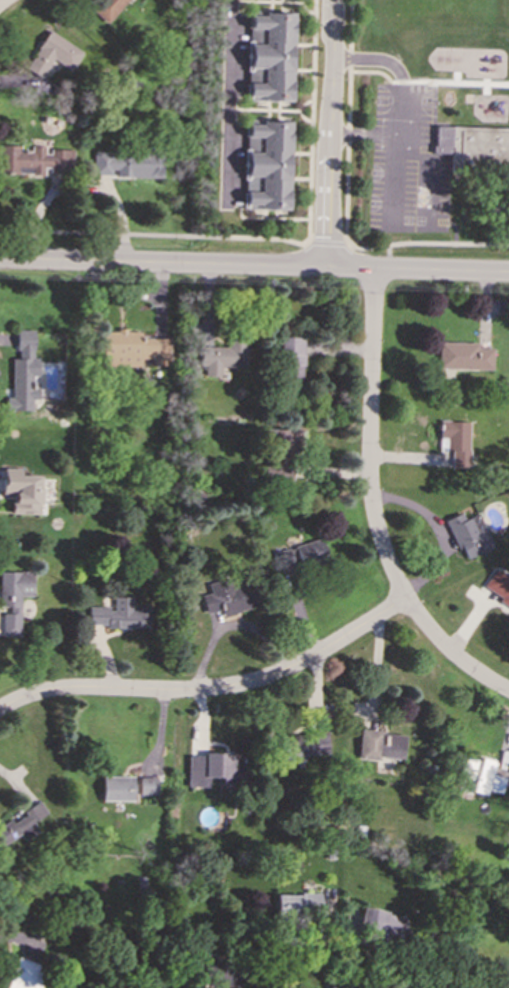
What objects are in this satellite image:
road: (2, 1)
building: (105, 8)
building: (51, 54)
building: (269, 56)
road: (341, 58)
road: (427, 83)
road: (226, 103)
road: (395, 108)
road: (347, 121)
road: (310, 122)
road: (326, 135)
road: (342, 135)
building: (475, 147)
building: (34, 160)
building: (266, 164)
building: (126, 165)
road: (429, 202)
road: (450, 223)
road: (256, 237)
road: (388, 258)
road: (254, 267)
building: (133, 349)
building: (222, 356)
building: (462, 356)
building: (290, 359)
building: (22, 374)
building: (453, 440)
building: (280, 454)
building: (22, 491)
road: (371, 508)
building: (468, 535)
building: (298, 557)
building: (498, 588)
building: (227, 597)
building: (13, 598)
building: (120, 614)
road: (210, 690)
building: (379, 745)
building: (301, 746)
building: (214, 768)
building: (481, 775)
building: (148, 786)
building: (117, 789)
building: (23, 824)
building: (296, 906)
building: (381, 922)
road: (326, 948)
building: (23, 974)
building: (220, 974)

